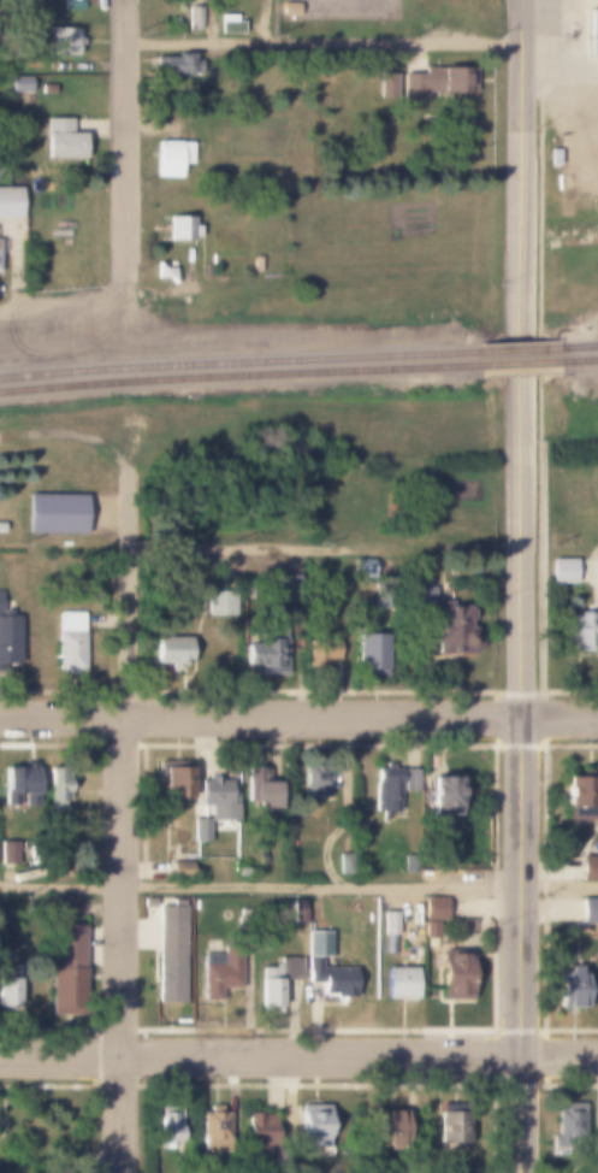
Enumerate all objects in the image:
building: (89, 0)
building: (73, 5)
park: (322, 10)
park: (379, 10)
building: (195, 19)
building: (230, 23)
building: (591, 31)
building: (63, 41)
road: (322, 49)
road: (418, 60)
building: (179, 64)
building: (436, 82)
building: (386, 84)
building: (64, 141)
road: (128, 146)
building: (552, 155)
building: (172, 158)
building: (48, 187)
building: (10, 201)
building: (182, 228)
building: (1, 252)
building: (164, 272)
road: (63, 300)
railway: (579, 348)
railway: (579, 350)
railway: (522, 353)
railway: (580, 364)
railway: (241, 365)
railway: (521, 366)
railway: (239, 378)
building: (55, 513)
building: (361, 568)
building: (597, 570)
building: (561, 571)
road: (520, 586)
building: (271, 588)
building: (383, 591)
building: (422, 596)
road: (128, 600)
building: (218, 603)
building: (451, 630)
building: (579, 631)
building: (8, 639)
building: (69, 641)
building: (170, 650)
building: (265, 650)
building: (318, 654)
building: (369, 655)
building: (385, 655)
road: (298, 715)
building: (408, 779)
building: (313, 782)
building: (17, 783)
building: (55, 784)
building: (172, 788)
building: (385, 788)
building: (256, 791)
building: (576, 796)
building: (439, 797)
building: (217, 798)
building: (199, 830)
building: (8, 851)
building: (344, 863)
building: (588, 866)
building: (57, 868)
building: (177, 870)
building: (191, 872)
road: (298, 882)
building: (64, 906)
building: (433, 908)
building: (590, 909)
building: (389, 923)
building: (428, 930)
road: (122, 942)
building: (316, 944)
building: (168, 954)
building: (64, 968)
building: (312, 969)
building: (218, 973)
building: (452, 973)
building: (336, 980)
building: (274, 983)
building: (399, 983)
building: (7, 986)
building: (568, 989)
road: (298, 1054)
building: (389, 1121)
building: (450, 1124)
building: (166, 1126)
building: (309, 1126)
building: (567, 1126)
park: (47, 1127)
building: (213, 1131)
building: (254, 1131)
building: (267, 1132)
road: (93, 1165)

